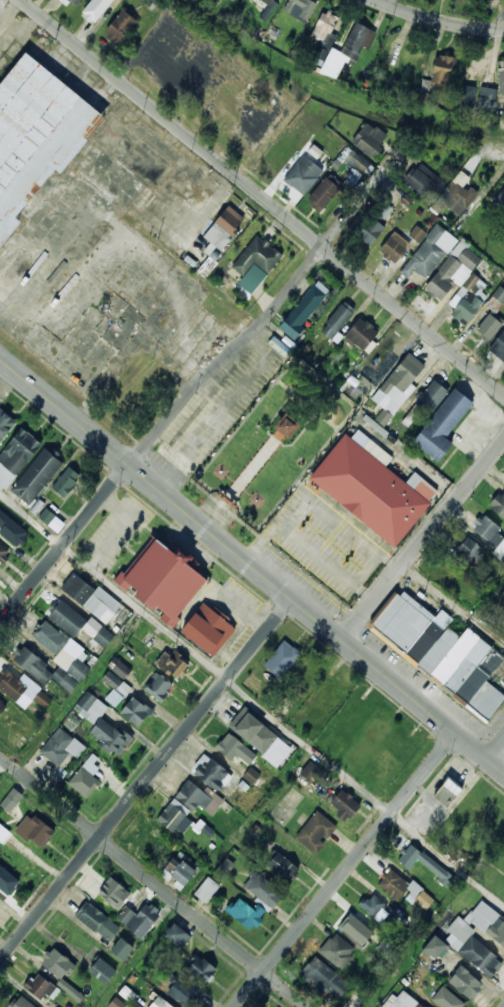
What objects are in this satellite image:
building: (120, 0)
building: (235, 0)
building: (74, 2)
building: (267, 2)
building: (485, 2)
building: (299, 9)
building: (94, 10)
road: (437, 20)
road: (497, 21)
building: (323, 26)
building: (118, 28)
building: (354, 41)
building: (441, 72)
building: (500, 78)
building: (487, 94)
building: (468, 95)
building: (36, 121)
building: (368, 139)
building: (354, 164)
building: (302, 176)
building: (423, 182)
building: (322, 195)
building: (455, 195)
road: (262, 197)
building: (499, 200)
building: (383, 210)
building: (219, 231)
building: (369, 232)
building: (417, 234)
building: (393, 248)
building: (428, 254)
building: (254, 264)
building: (452, 271)
building: (302, 312)
building: (491, 318)
building: (336, 321)
building: (360, 333)
building: (499, 346)
road: (196, 384)
building: (398, 387)
building: (431, 395)
road: (217, 408)
building: (5, 426)
building: (285, 426)
building: (441, 426)
building: (18, 452)
flagpole: (302, 463)
road: (410, 463)
building: (36, 478)
building: (65, 481)
building: (372, 489)
building: (225, 498)
road: (319, 505)
building: (497, 506)
road: (117, 507)
building: (51, 520)
building: (10, 529)
road: (113, 536)
building: (489, 536)
road: (423, 542)
road: (228, 548)
building: (2, 552)
building: (467, 552)
road: (329, 567)
building: (167, 580)
building: (502, 594)
building: (91, 599)
road: (245, 611)
building: (66, 618)
building: (211, 630)
building: (49, 638)
building: (441, 653)
building: (284, 655)
building: (170, 664)
building: (31, 665)
building: (120, 667)
building: (10, 686)
building: (115, 688)
building: (157, 688)
road: (251, 700)
building: (2, 708)
building: (134, 712)
building: (102, 727)
building: (253, 734)
building: (62, 746)
road: (472, 748)
building: (233, 750)
road: (496, 751)
road: (496, 767)
building: (312, 772)
building: (84, 773)
building: (210, 775)
road: (146, 780)
building: (446, 792)
building: (197, 798)
building: (11, 800)
building: (342, 805)
building: (170, 818)
building: (33, 831)
building: (314, 833)
building: (3, 834)
building: (419, 862)
building: (281, 868)
building: (179, 870)
road: (346, 871)
building: (4, 881)
road: (152, 882)
building: (401, 889)
building: (205, 890)
building: (262, 890)
building: (112, 894)
building: (373, 906)
building: (244, 914)
building: (141, 921)
building: (97, 922)
building: (487, 924)
building: (352, 928)
building: (176, 937)
building: (433, 948)
building: (470, 949)
building: (120, 950)
building: (337, 952)
building: (56, 965)
building: (199, 970)
building: (100, 971)
building: (324, 979)
building: (464, 983)
building: (39, 987)
building: (69, 989)
building: (182, 992)
building: (446, 999)
building: (401, 1001)
building: (19, 1002)
building: (354, 1002)
building: (116, 1003)
building: (158, 1003)

